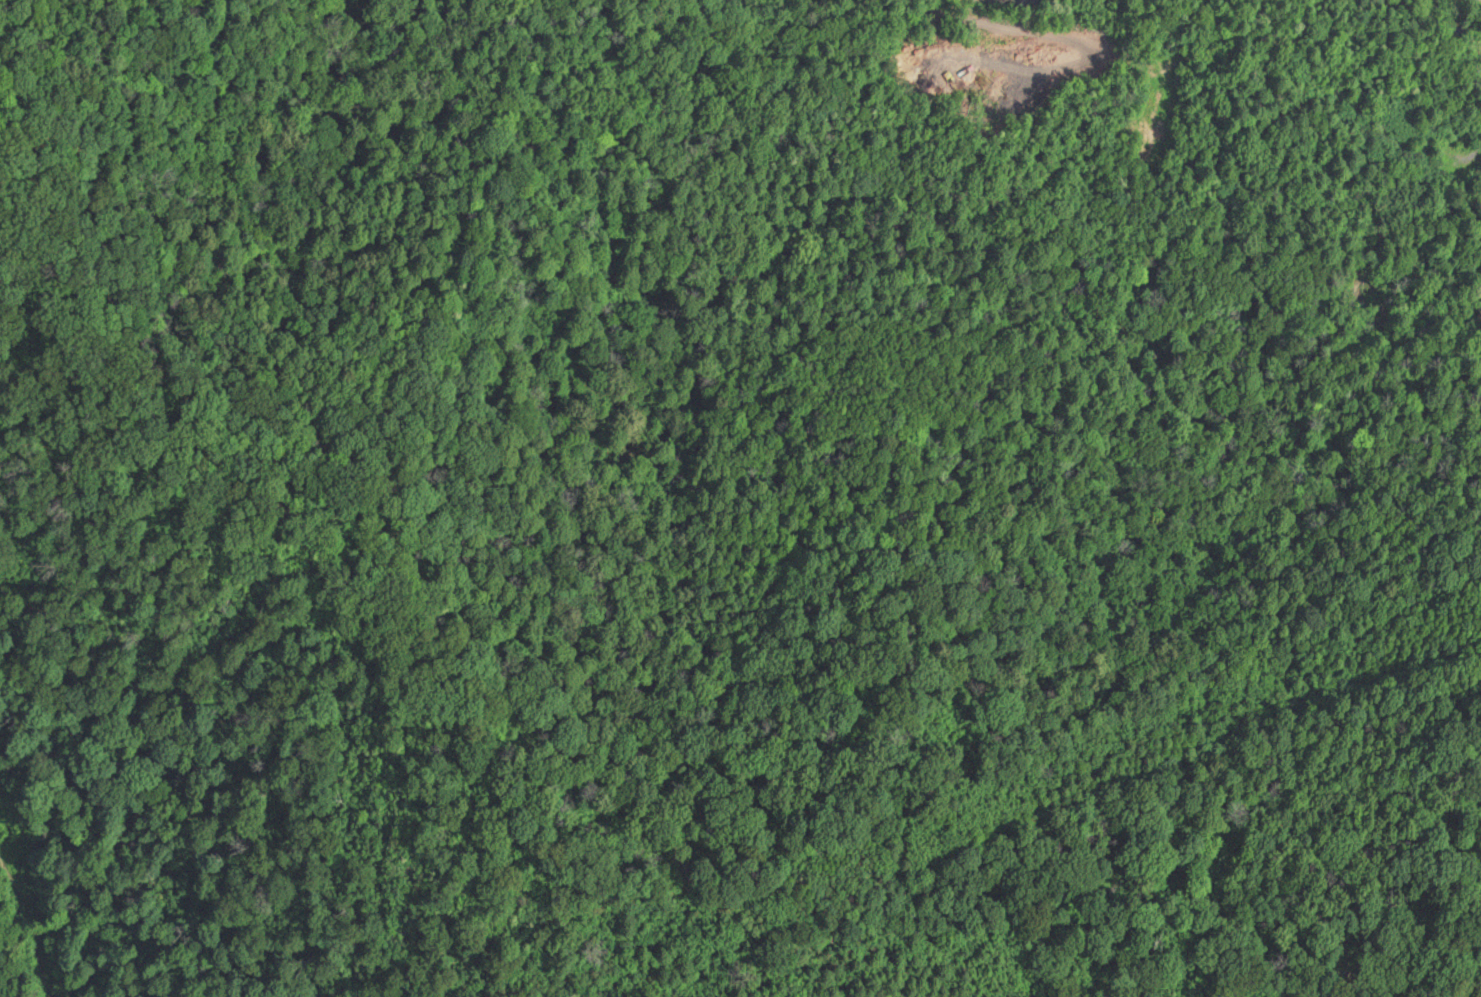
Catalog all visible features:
road: (1190, 227)

